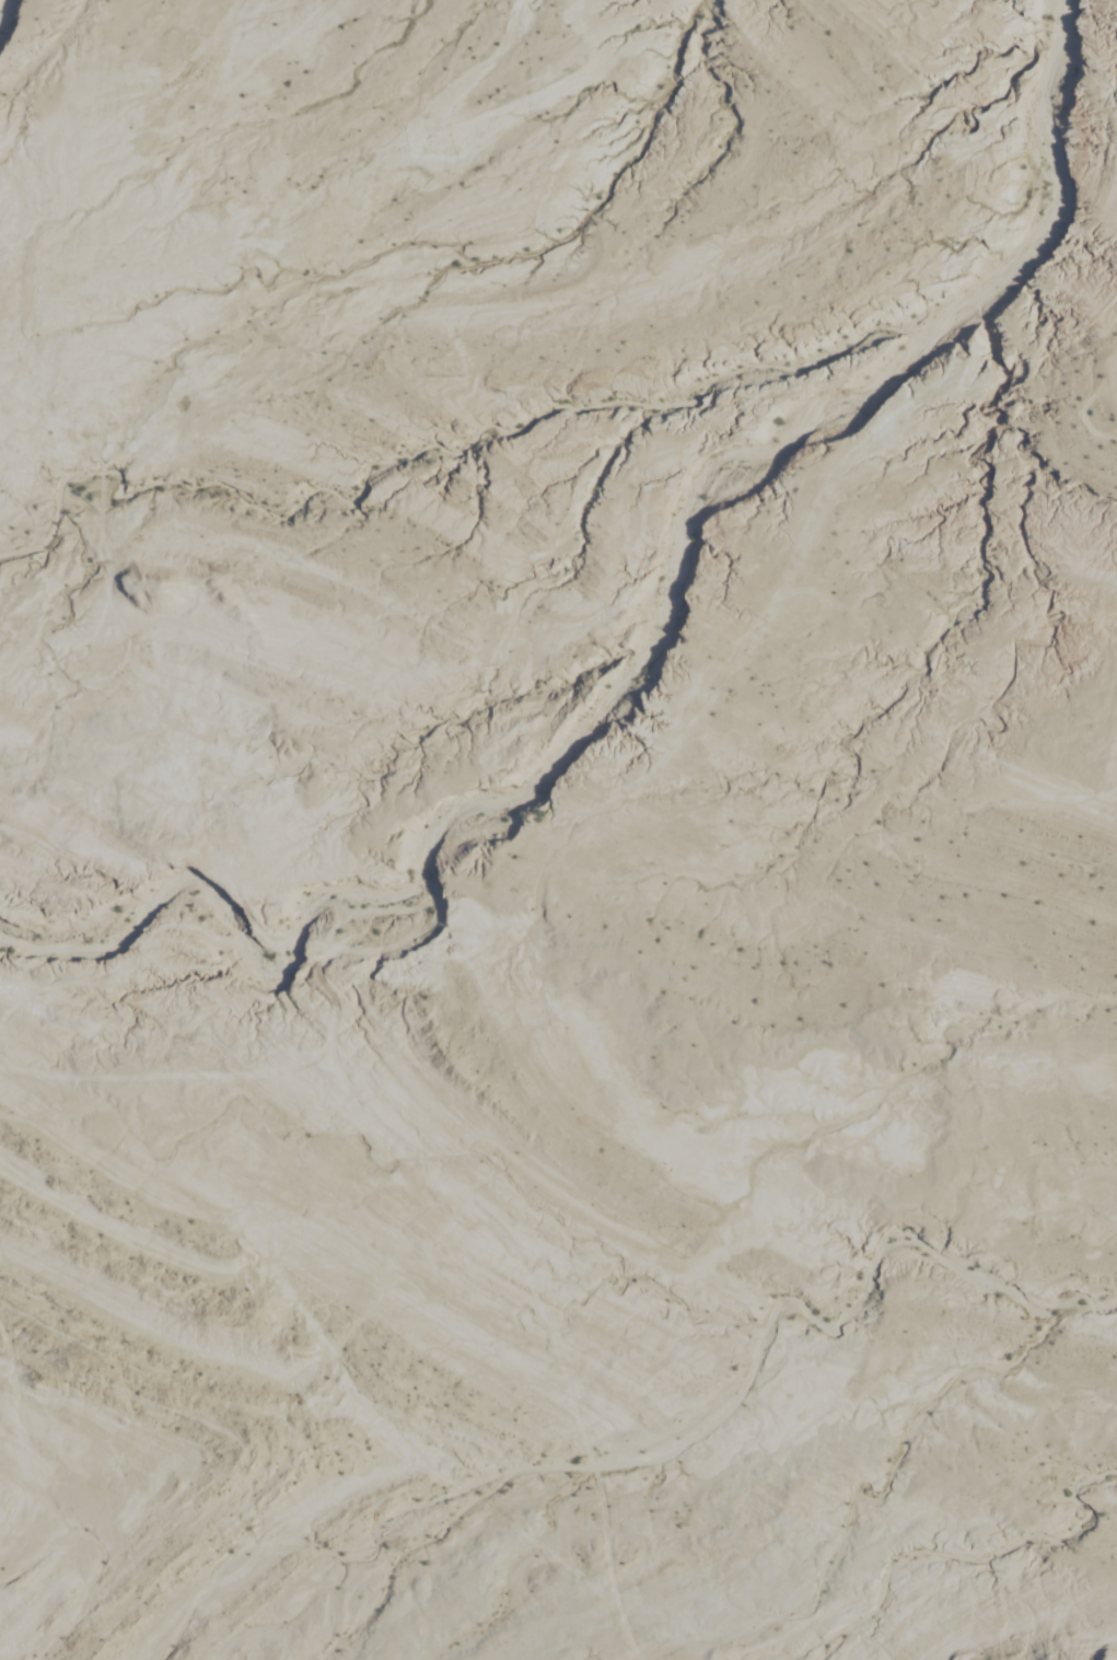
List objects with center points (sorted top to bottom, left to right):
road: (2, 3)

